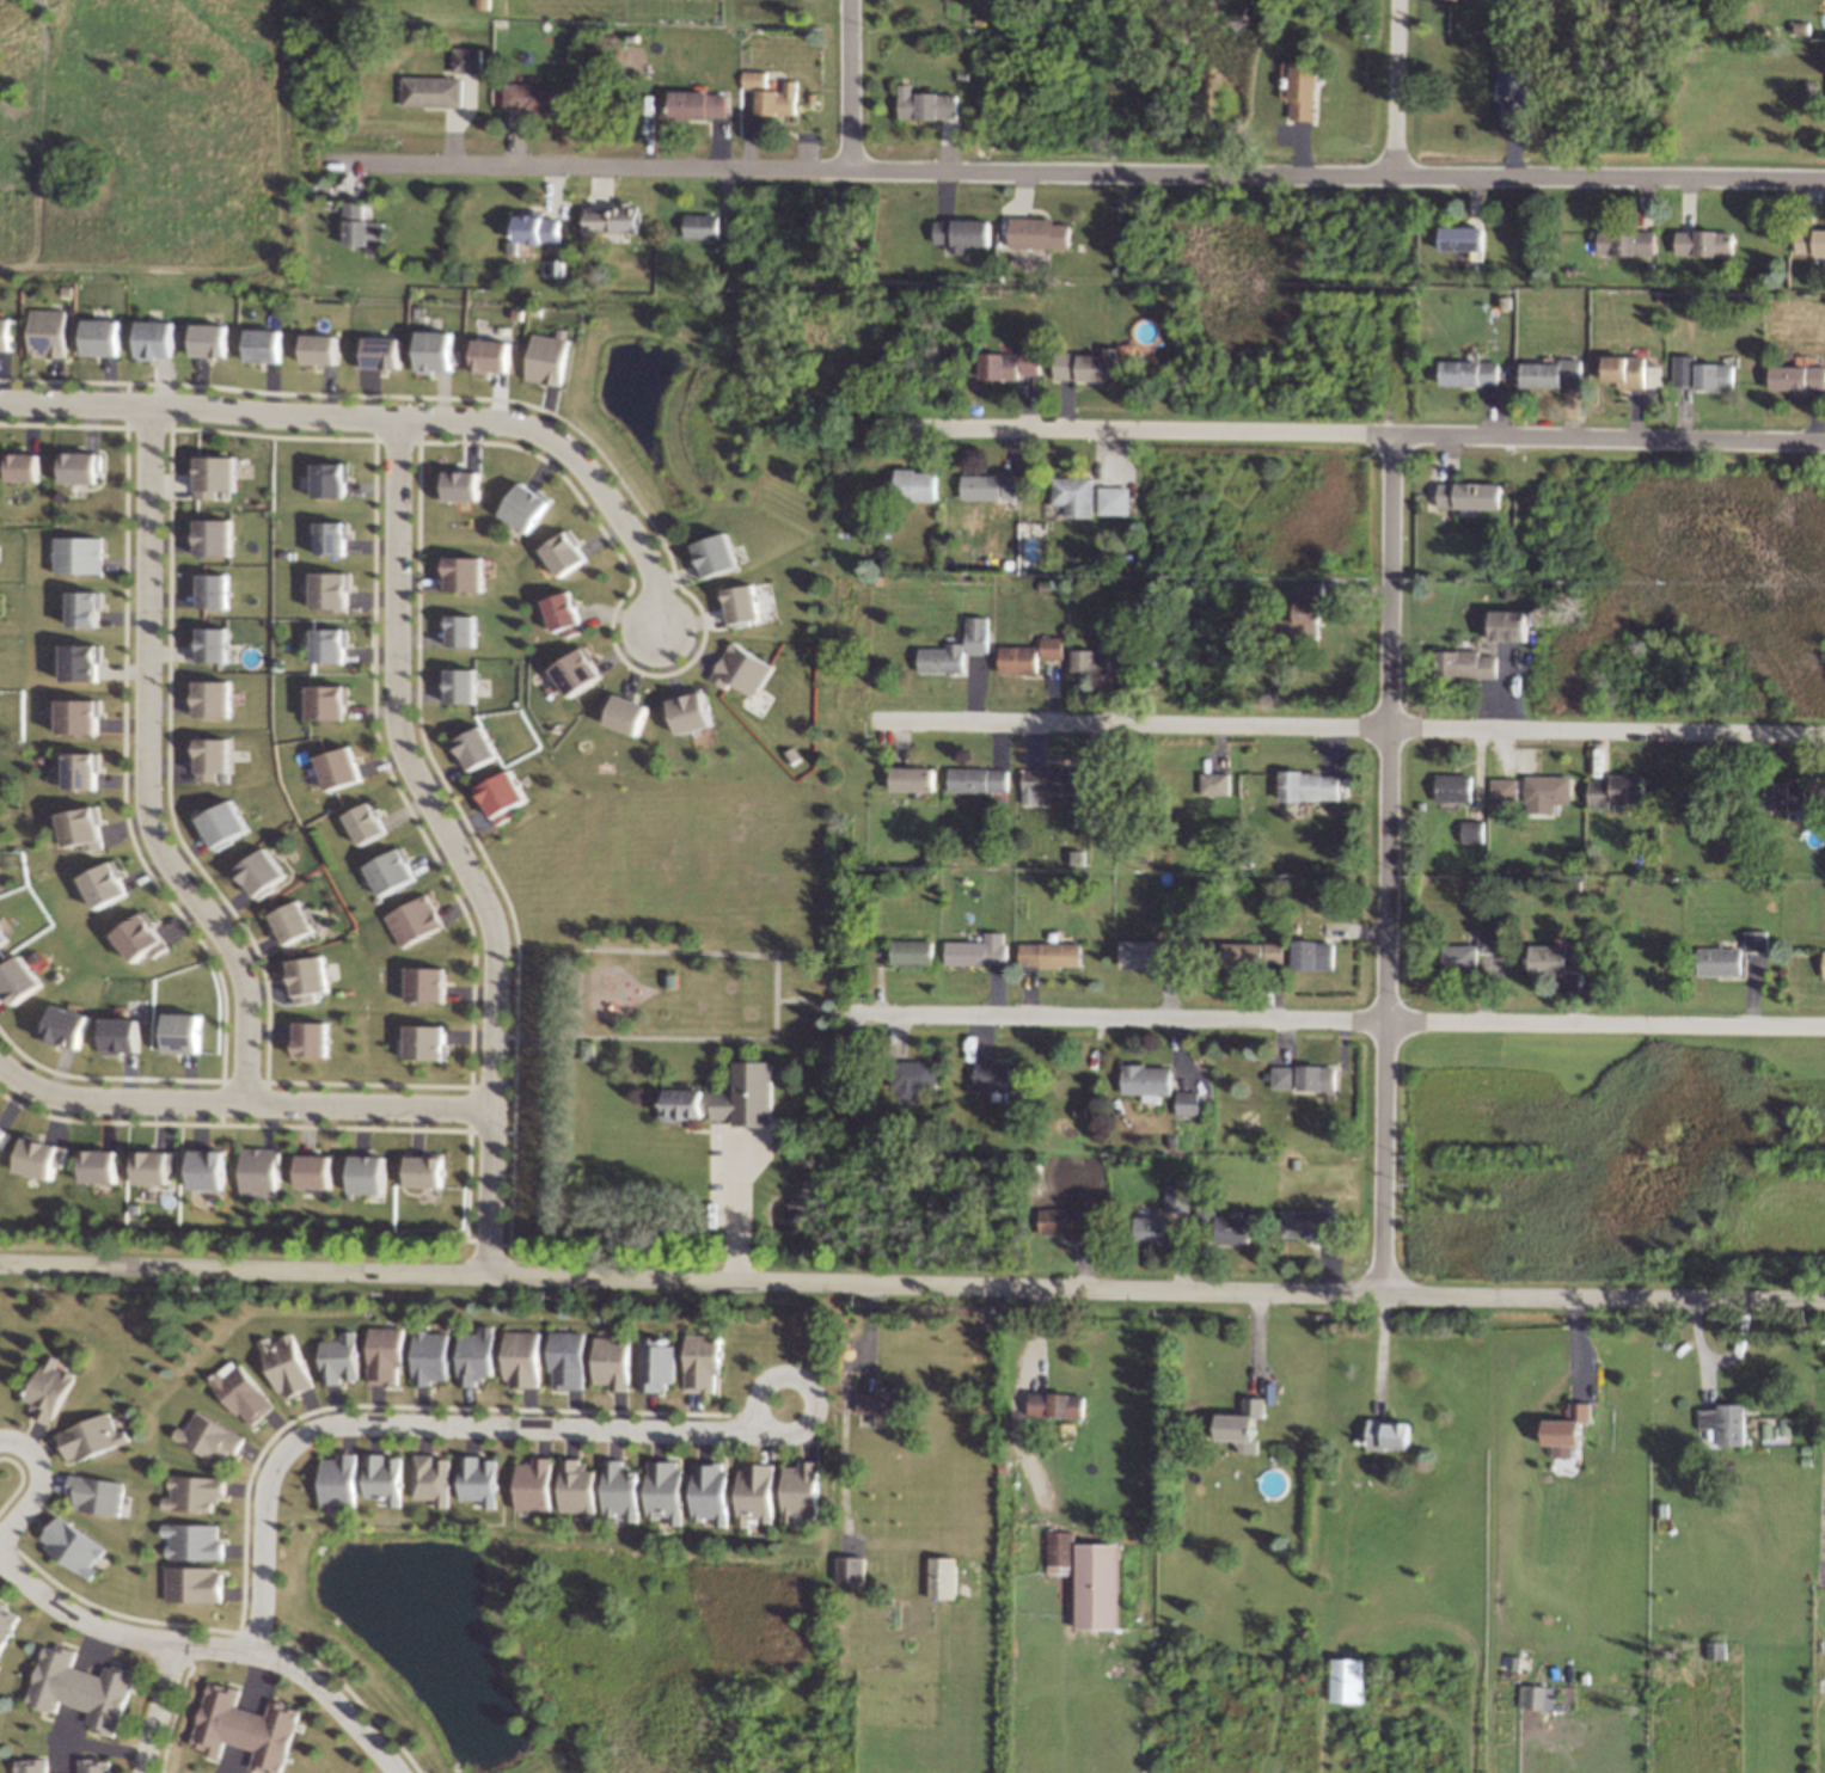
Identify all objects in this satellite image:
building: (1455, 1)
building: (465, 59)
building: (753, 79)
road: (850, 84)
road: (1397, 87)
building: (1298, 90)
building: (1513, 92)
building: (431, 93)
building: (531, 97)
building: (776, 103)
building: (691, 106)
building: (926, 111)
crop: (151, 112)
road: (1078, 170)
building: (608, 219)
building: (360, 228)
building: (538, 228)
building: (702, 228)
building: (960, 237)
building: (1034, 238)
building: (1459, 241)
building: (1624, 241)
building: (1704, 244)
building: (1812, 244)
building: (54, 333)
building: (10, 335)
building: (109, 337)
building: (160, 337)
building: (215, 339)
building: (268, 348)
building: (321, 348)
building: (440, 349)
building: (380, 350)
building: (498, 355)
building: (553, 360)
building: (1009, 362)
building: (1086, 367)
building: (1631, 375)
building: (1701, 375)
building: (1468, 376)
building: (1550, 376)
building: (1799, 380)
road: (392, 419)
road: (1352, 432)
building: (84, 465)
building: (27, 467)
building: (222, 473)
building: (335, 478)
building: (914, 484)
building: (464, 486)
building: (987, 490)
building: (1079, 495)
building: (1465, 495)
building: (1113, 499)
building: (531, 505)
building: (335, 534)
building: (221, 535)
building: (719, 552)
building: (568, 553)
building: (85, 556)
building: (469, 573)
building: (332, 588)
building: (216, 591)
building: (754, 603)
building: (84, 607)
building: (565, 613)
building: (1304, 614)
building: (1506, 624)
building: (463, 627)
building: (975, 634)
building: (330, 643)
building: (218, 644)
building: (1052, 646)
building: (948, 655)
building: (1027, 659)
building: (1095, 661)
building: (85, 663)
building: (1464, 665)
building: (746, 668)
building: (583, 670)
building: (466, 688)
building: (216, 697)
building: (330, 699)
building: (693, 711)
building: (631, 713)
building: (84, 717)
road: (1358, 726)
building: (478, 746)
building: (218, 757)
building: (341, 767)
road: (148, 769)
building: (85, 771)
building: (976, 783)
building: (910, 784)
building: (1045, 784)
building: (1213, 787)
building: (1307, 789)
building: (1452, 789)
building: (1502, 789)
building: (1615, 791)
building: (1547, 792)
building: (507, 793)
building: (1784, 793)
building: (226, 823)
building: (368, 823)
building: (87, 828)
building: (1471, 830)
road: (455, 846)
road: (1388, 864)
building: (393, 870)
building: (263, 872)
building: (110, 884)
building: (295, 921)
building: (418, 922)
building: (142, 937)
building: (4, 939)
building: (1488, 940)
building: (1754, 940)
building: (979, 952)
building: (910, 953)
building: (1047, 955)
building: (1149, 956)
building: (1248, 956)
building: (1317, 958)
building: (1464, 958)
building: (1720, 961)
building: (1560, 962)
building: (1824, 963)
building: (313, 977)
building: (22, 978)
building: (428, 984)
road: (1339, 1022)
building: (68, 1025)
building: (186, 1030)
building: (122, 1035)
building: (314, 1038)
building: (428, 1042)
building: (913, 1075)
building: (1000, 1076)
building: (1306, 1078)
building: (1145, 1080)
building: (751, 1093)
crop: (1492, 1102)
building: (1188, 1103)
building: (692, 1104)
road: (240, 1108)
building: (4, 1135)
building: (43, 1157)
building: (104, 1167)
building: (154, 1167)
building: (209, 1167)
building: (261, 1171)
building: (317, 1172)
building: (373, 1173)
building: (427, 1173)
building: (1176, 1197)
road: (739, 1208)
crop: (1780, 1219)
building: (1067, 1221)
building: (1312, 1227)
building: (1223, 1228)
building: (1152, 1229)
road: (691, 1282)
road: (1604, 1297)
building: (388, 1356)
building: (430, 1356)
building: (472, 1357)
building: (343, 1360)
building: (564, 1360)
building: (290, 1361)
building: (612, 1361)
building: (521, 1362)
building: (702, 1363)
building: (656, 1364)
building: (53, 1388)
building: (244, 1389)
building: (1057, 1406)
building: (880, 1407)
road: (509, 1428)
building: (1239, 1428)
building: (1722, 1428)
building: (1567, 1431)
building: (1776, 1431)
building: (94, 1436)
building: (1385, 1436)
building: (214, 1437)
building: (391, 1477)
building: (436, 1478)
building: (342, 1479)
building: (482, 1480)
road: (43, 1483)
building: (535, 1484)
building: (619, 1487)
building: (576, 1489)
building: (663, 1489)
building: (710, 1489)
building: (801, 1490)
building: (753, 1492)
building: (102, 1493)
building: (197, 1493)
building: (198, 1541)
building: (78, 1544)
building: (1059, 1552)
building: (850, 1569)
building: (941, 1577)
building: (200, 1584)
building: (1097, 1585)
building: (8, 1625)
road: (209, 1648)
building: (1346, 1680)
building: (84, 1689)
building: (1535, 1697)
road: (160, 1707)
building: (246, 1728)
crop: (1574, 1742)
road: (104, 1746)
building: (33, 1766)
building: (98, 1767)

